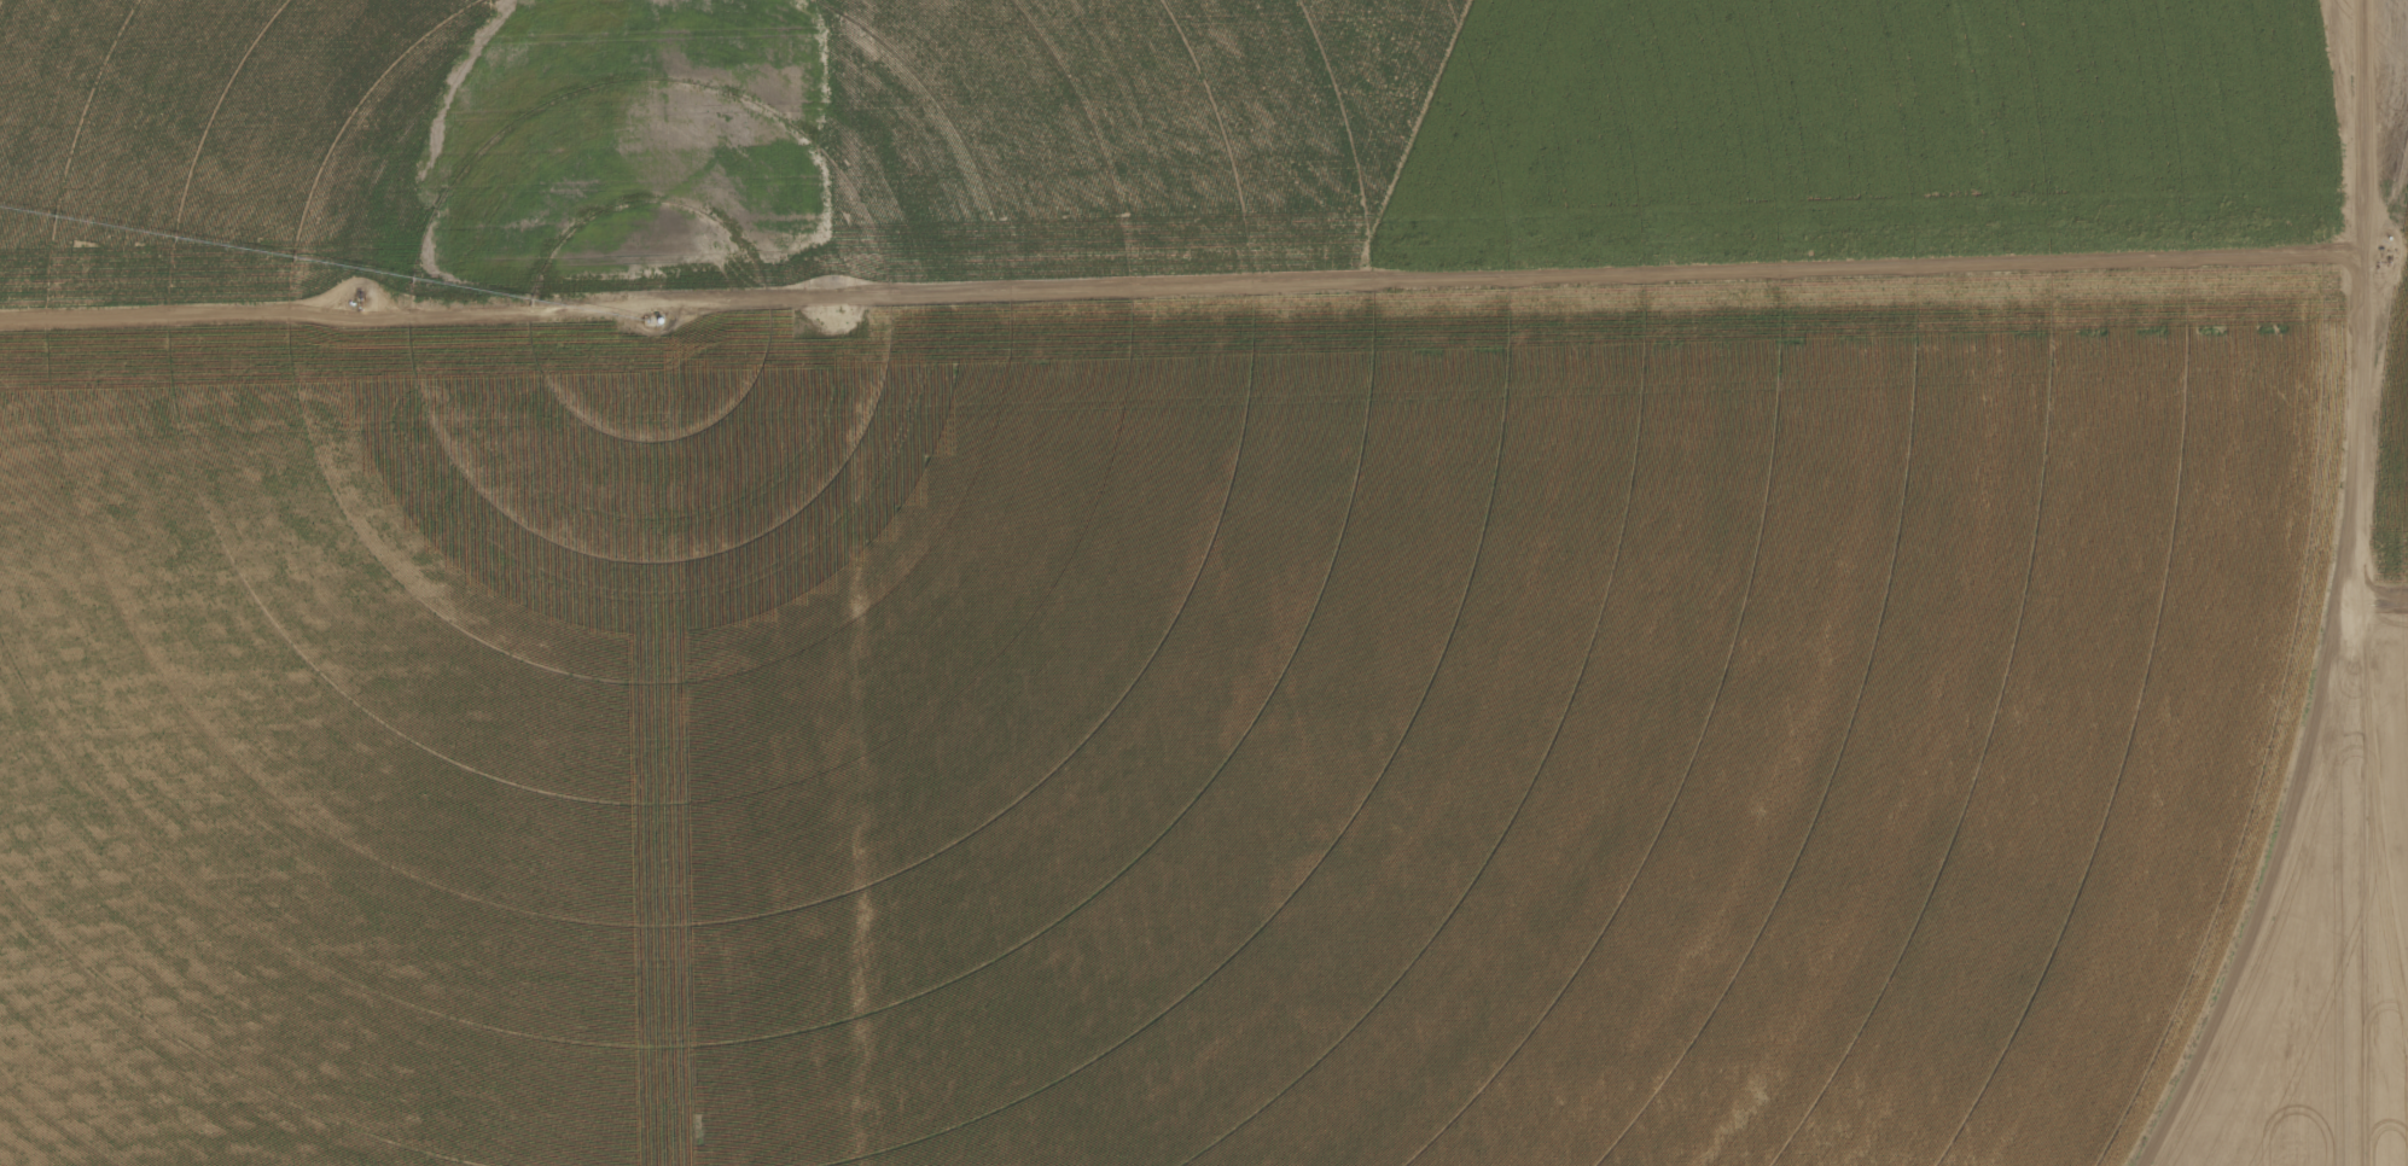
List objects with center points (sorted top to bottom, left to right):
road: (2400, 239)

